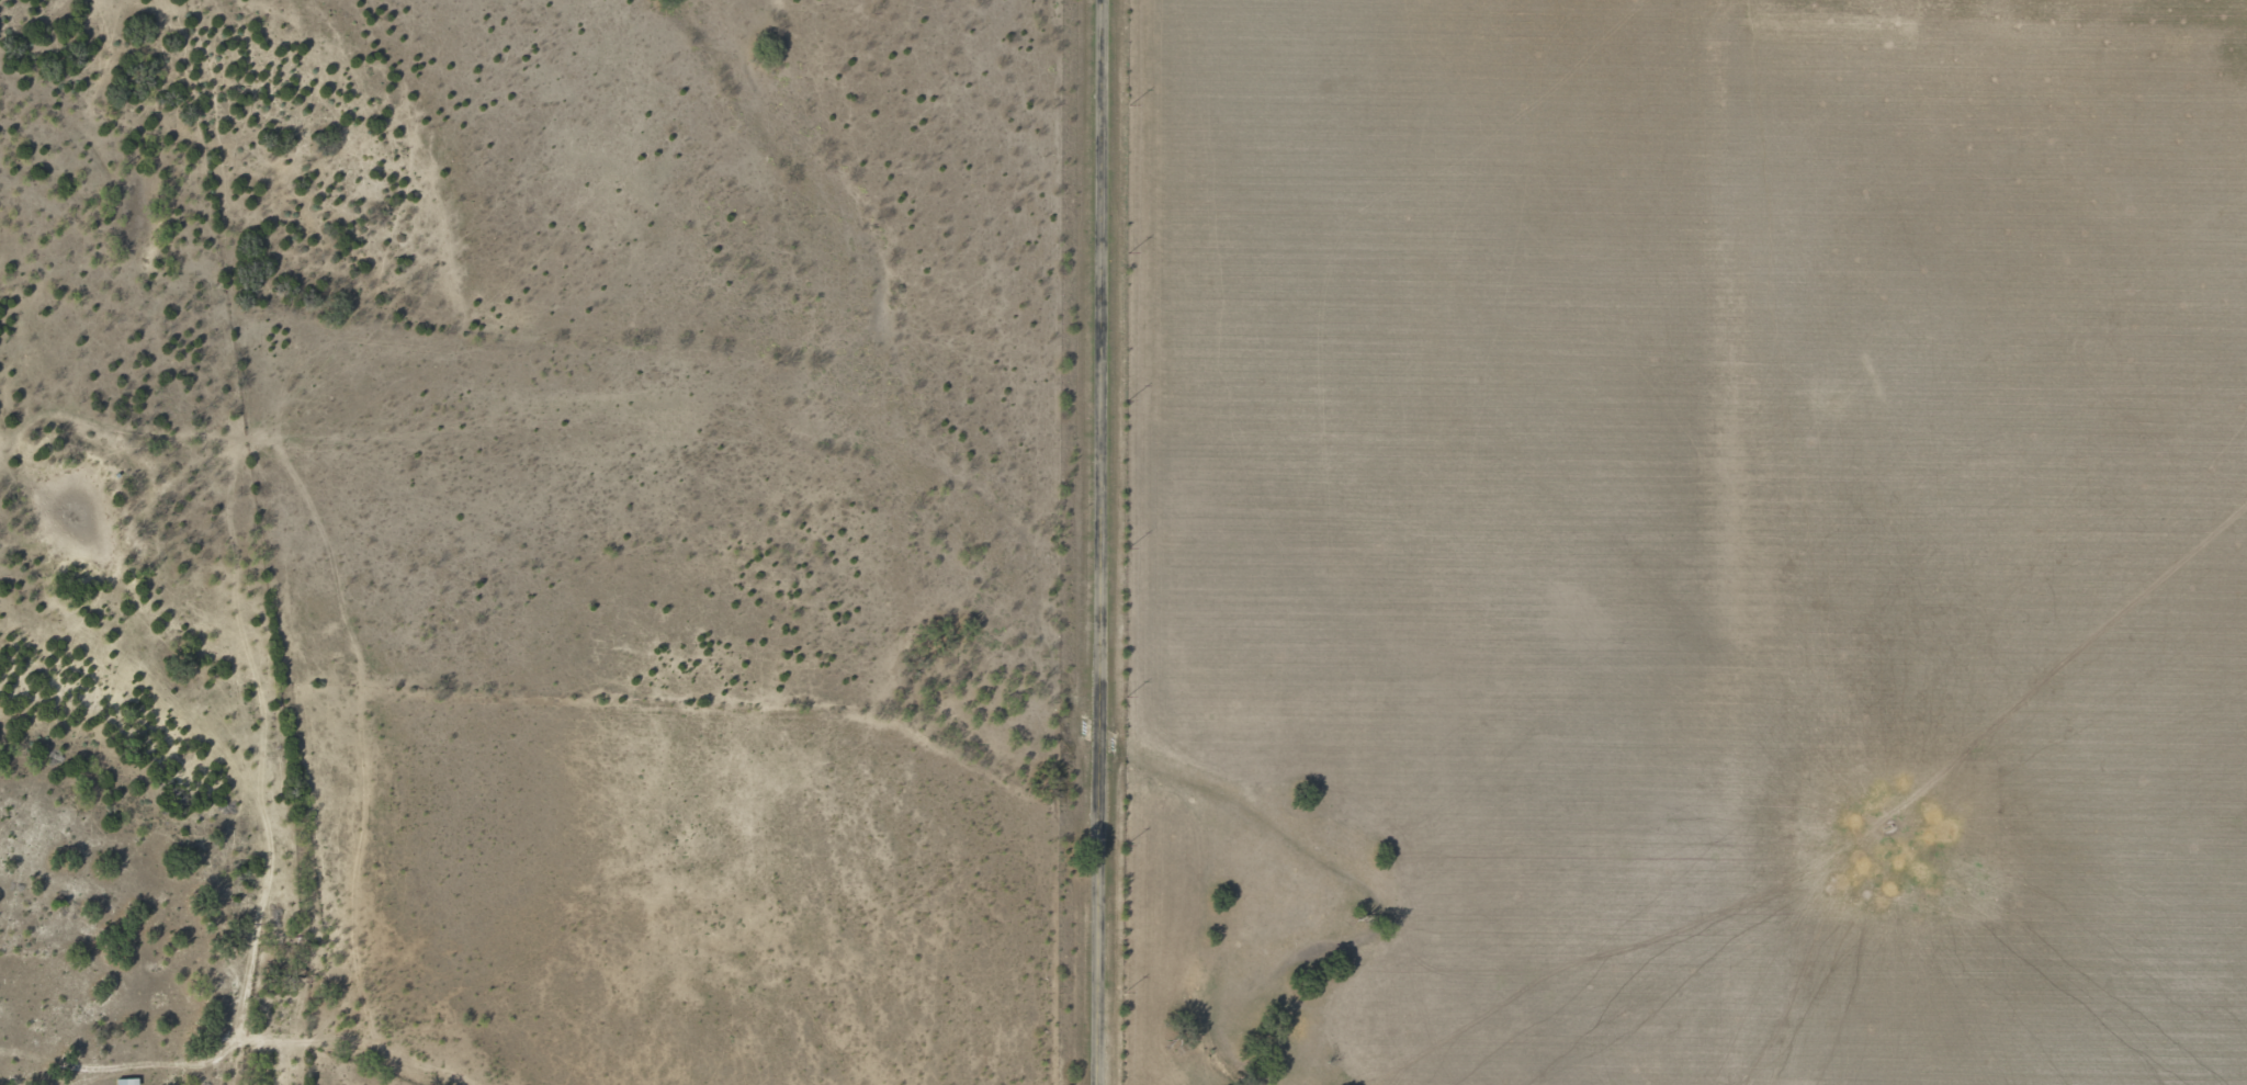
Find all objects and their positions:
road: (1102, 542)
road: (216, 1044)
building: (125, 1082)

